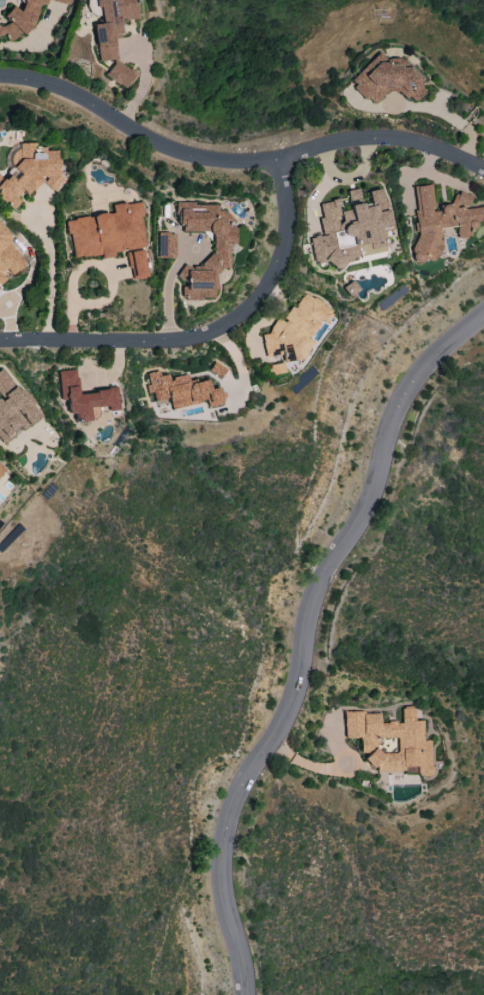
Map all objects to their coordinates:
building: (22, 17)
building: (112, 36)
building: (385, 80)
road: (144, 81)
road: (451, 117)
road: (236, 159)
building: (30, 171)
building: (441, 220)
building: (351, 229)
building: (106, 231)
building: (165, 245)
building: (220, 249)
building: (8, 256)
building: (136, 264)
road: (49, 272)
road: (167, 289)
building: (293, 329)
road: (209, 331)
building: (274, 368)
building: (182, 390)
building: (85, 397)
building: (12, 409)
building: (1, 469)
road: (306, 637)
building: (390, 741)

